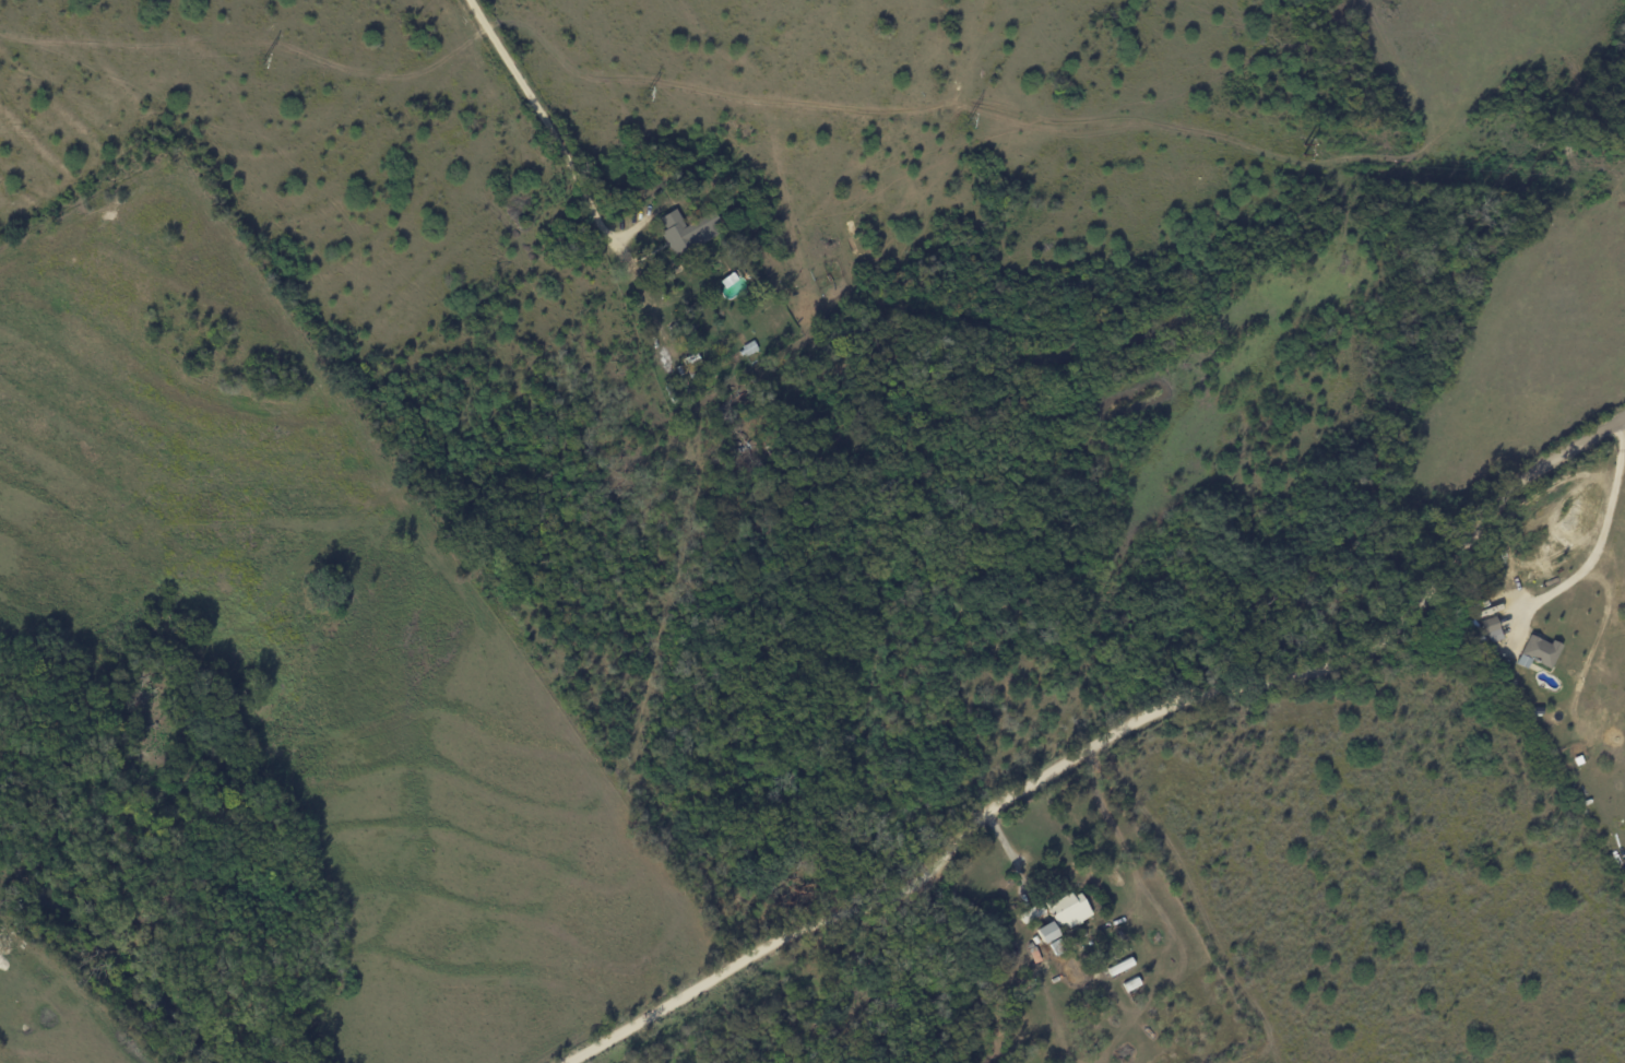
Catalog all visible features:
power tower: (266, 62)
power tower: (649, 96)
road: (555, 120)
power tower: (972, 123)
power tower: (1310, 151)
building: (687, 228)
road: (1599, 539)
building: (1492, 629)
building: (1538, 651)
road: (1101, 742)
road: (1009, 855)
building: (1069, 910)
building: (1046, 932)

